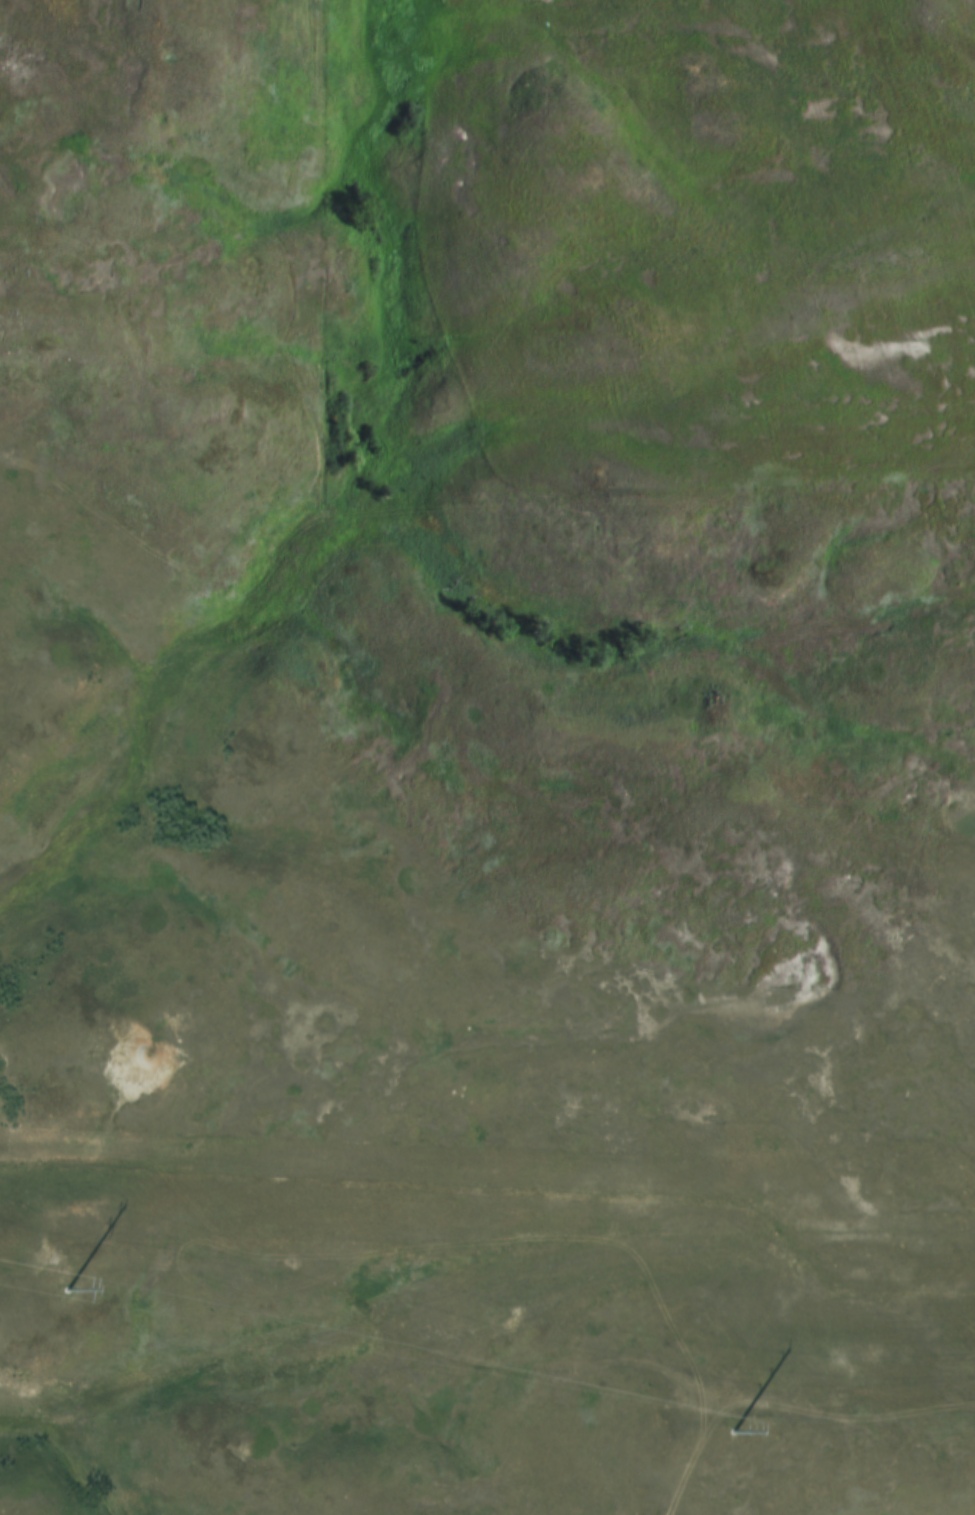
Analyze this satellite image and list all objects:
power tower: (64, 1289)
power tower: (727, 1430)

